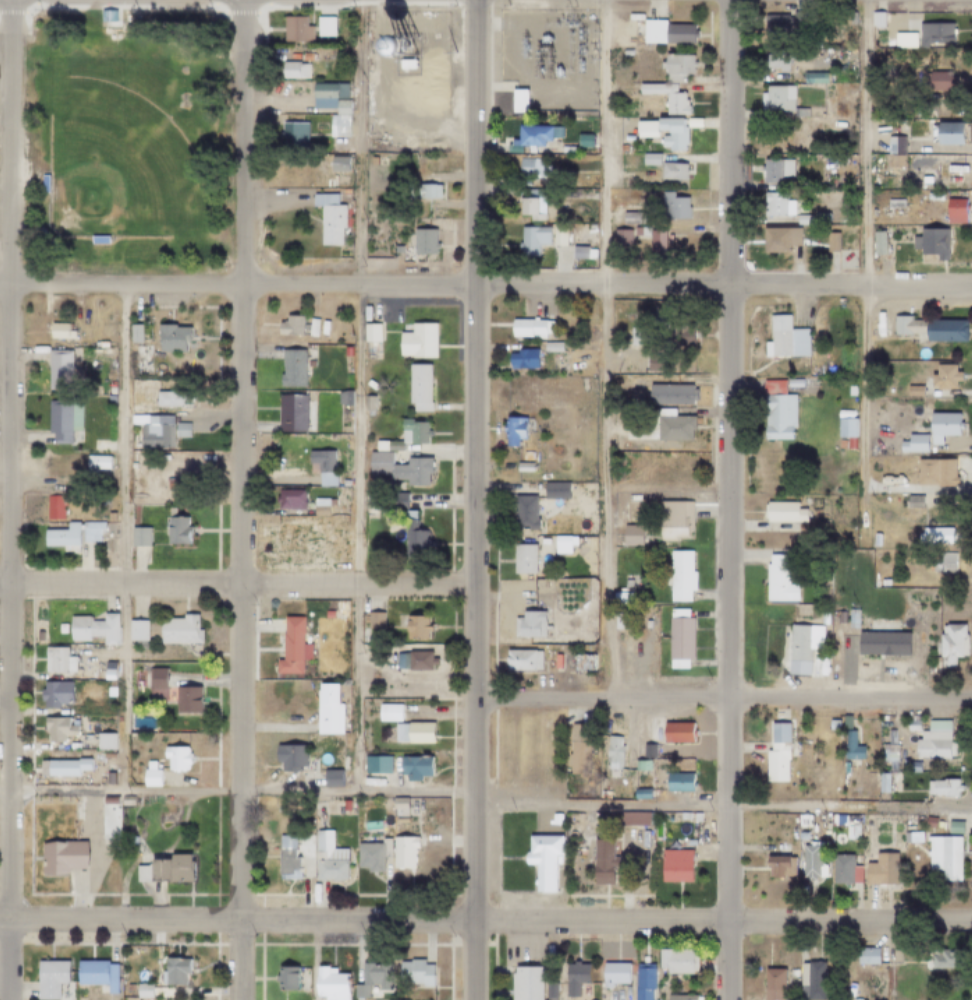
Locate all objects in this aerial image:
road: (242, 0)
road: (479, 0)
building: (106, 16)
building: (877, 19)
building: (789, 21)
road: (510, 23)
building: (322, 26)
building: (293, 29)
building: (667, 32)
building: (934, 33)
building: (545, 38)
water tower: (458, 42)
building: (403, 44)
storage tank: (403, 44)
power substation: (545, 55)
building: (305, 57)
road: (509, 59)
building: (776, 61)
building: (403, 66)
building: (676, 67)
building: (291, 70)
building: (557, 71)
building: (815, 77)
building: (938, 81)
building: (176, 84)
road: (533, 86)
building: (325, 94)
building: (667, 96)
building: (940, 98)
building: (516, 99)
building: (777, 99)
building: (339, 107)
building: (336, 127)
building: (644, 128)
building: (673, 133)
building: (949, 133)
building: (291, 134)
building: (535, 137)
park: (123, 141)
building: (581, 141)
building: (565, 150)
building: (895, 152)
building: (650, 159)
building: (378, 161)
building: (336, 164)
park: (114, 166)
building: (528, 168)
building: (776, 169)
building: (672, 172)
building: (41, 184)
building: (421, 192)
building: (531, 202)
building: (776, 204)
building: (674, 206)
building: (892, 208)
building: (955, 210)
building: (633, 216)
building: (822, 216)
building: (326, 218)
building: (613, 218)
building: (804, 220)
building: (643, 232)
building: (621, 235)
stadium: (42, 237)
building: (779, 238)
building: (531, 240)
building: (96, 241)
building: (568, 241)
building: (421, 242)
building: (831, 242)
building: (934, 242)
building: (877, 243)
road: (865, 273)
road: (485, 288)
building: (290, 325)
building: (60, 326)
building: (312, 326)
building: (531, 326)
building: (323, 327)
building: (675, 328)
building: (932, 328)
building: (370, 331)
building: (135, 333)
building: (638, 336)
building: (172, 338)
building: (785, 338)
building: (418, 340)
building: (100, 343)
building: (552, 346)
building: (369, 348)
road: (603, 348)
building: (96, 350)
building: (522, 358)
building: (655, 362)
building: (292, 368)
building: (59, 369)
building: (945, 376)
building: (372, 383)
building: (419, 387)
building: (851, 390)
building: (915, 390)
building: (670, 394)
road: (356, 395)
building: (167, 396)
building: (345, 397)
building: (369, 404)
building: (292, 413)
building: (779, 416)
building: (59, 421)
building: (673, 426)
building: (846, 426)
building: (514, 429)
building: (412, 431)
building: (932, 432)
building: (152, 433)
building: (394, 445)
building: (527, 455)
building: (523, 466)
building: (96, 467)
building: (322, 467)
building: (399, 468)
building: (936, 473)
building: (174, 483)
building: (557, 490)
building: (909, 498)
building: (290, 499)
road: (6, 500)
road: (237, 500)
road: (476, 500)
road: (724, 500)
building: (320, 502)
building: (331, 502)
building: (54, 508)
building: (783, 511)
building: (303, 512)
building: (525, 512)
building: (673, 521)
building: (407, 524)
building: (176, 528)
building: (90, 531)
building: (632, 535)
building: (139, 536)
building: (285, 536)
building: (938, 536)
road: (123, 537)
building: (63, 538)
building: (330, 542)
building: (563, 544)
building: (523, 559)
building: (944, 562)
building: (679, 576)
building: (779, 580)
road: (237, 583)
building: (628, 584)
building: (621, 598)
building: (328, 614)
building: (854, 618)
building: (371, 620)
building: (589, 623)
building: (530, 624)
building: (417, 627)
building: (92, 629)
building: (177, 631)
building: (135, 633)
building: (679, 638)
building: (804, 641)
building: (952, 644)
building: (875, 645)
building: (71, 649)
building: (85, 649)
building: (292, 649)
building: (414, 660)
building: (522, 660)
building: (56, 661)
building: (557, 661)
building: (584, 662)
building: (155, 679)
building: (109, 684)
building: (155, 694)
building: (53, 695)
building: (108, 696)
road: (723, 697)
building: (305, 700)
building: (185, 701)
building: (328, 710)
building: (389, 712)
building: (910, 724)
building: (830, 725)
building: (55, 730)
building: (414, 732)
building: (675, 733)
building: (102, 742)
building: (932, 742)
building: (849, 746)
building: (575, 749)
building: (644, 751)
building: (886, 753)
building: (774, 754)
building: (290, 756)
building: (612, 756)
building: (173, 759)
building: (388, 760)
building: (411, 766)
building: (900, 767)
building: (911, 767)
building: (64, 768)
building: (375, 773)
building: (148, 776)
building: (332, 778)
building: (677, 783)
building: (881, 784)
building: (941, 788)
road: (237, 792)
building: (639, 794)
building: (123, 801)
road: (723, 805)
building: (397, 808)
building: (694, 818)
building: (824, 818)
building: (105, 820)
building: (553, 820)
building: (631, 820)
building: (907, 820)
building: (927, 823)
building: (937, 825)
building: (824, 827)
building: (847, 828)
building: (952, 828)
building: (800, 829)
building: (906, 829)
building: (823, 834)
building: (910, 838)
building: (688, 843)
building: (779, 848)
building: (400, 853)
building: (289, 856)
building: (370, 856)
building: (59, 858)
building: (326, 859)
building: (941, 859)
building: (601, 860)
building: (541, 861)
building: (809, 864)
building: (673, 867)
building: (777, 867)
building: (162, 871)
building: (842, 871)
building: (878, 871)
road: (236, 920)
road: (723, 921)
building: (864, 956)
building: (941, 961)
building: (675, 962)
building: (172, 972)
building: (94, 975)
building: (414, 975)
building: (611, 975)
building: (139, 976)
building: (47, 979)
building: (283, 979)
building: (368, 980)
building: (572, 980)
building: (641, 982)
building: (810, 982)
building: (327, 984)
building: (522, 984)
building: (771, 985)
building: (141, 992)
building: (549, 992)
building: (679, 998)

